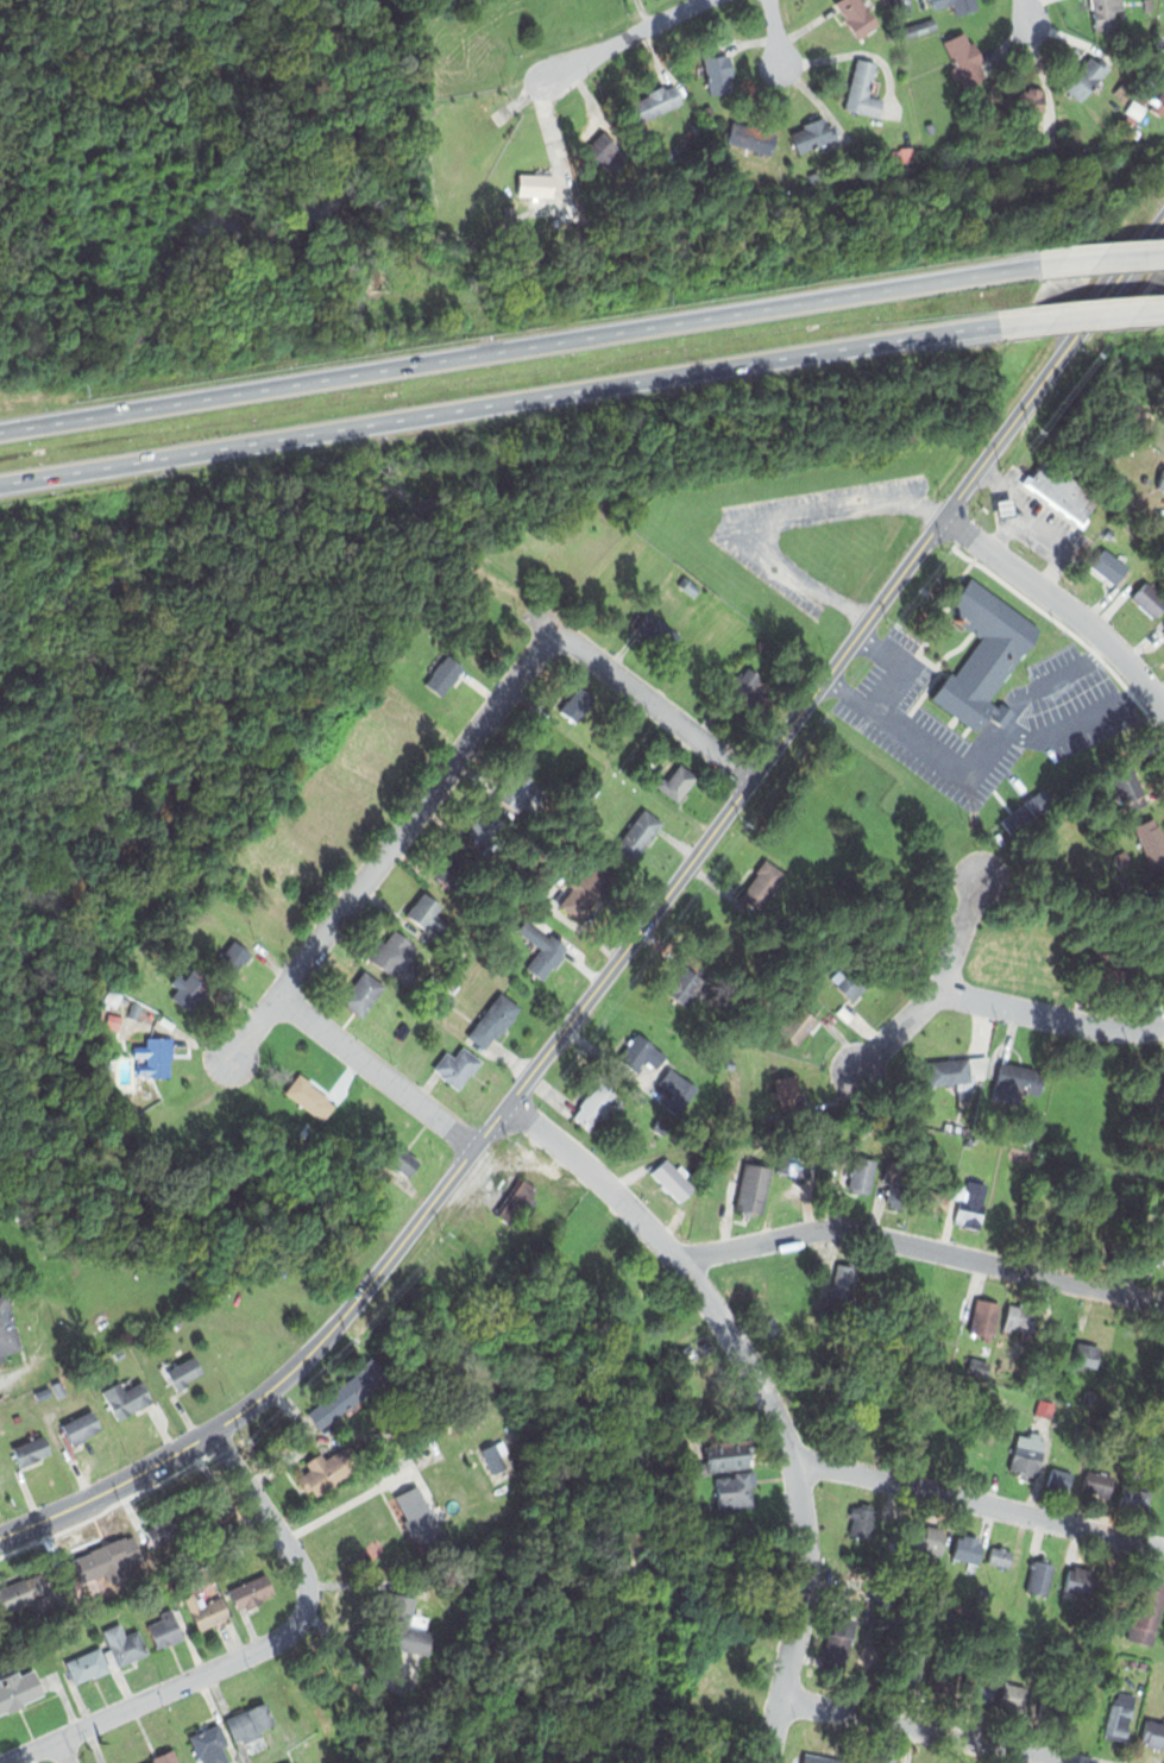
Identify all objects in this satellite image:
building: (906, 4)
building: (955, 4)
road: (1027, 11)
building: (1108, 13)
building: (856, 15)
building: (921, 26)
road: (774, 31)
road: (622, 38)
building: (964, 59)
building: (718, 70)
building: (1084, 74)
building: (863, 90)
building: (1121, 90)
building: (1019, 102)
building: (1159, 102)
building: (654, 103)
building: (1137, 109)
building: (1130, 120)
building: (931, 126)
building: (694, 130)
building: (812, 134)
building: (751, 138)
building: (602, 152)
building: (919, 152)
building: (895, 153)
building: (907, 153)
building: (534, 182)
building: (509, 215)
road: (1102, 257)
road: (1081, 314)
road: (521, 346)
road: (1053, 367)
road: (498, 403)
building: (1147, 479)
building: (1160, 479)
building: (1062, 491)
building: (1005, 505)
road: (939, 515)
road: (768, 523)
parking lot: (756, 553)
building: (1107, 565)
building: (690, 585)
building: (1150, 598)
road: (1062, 604)
road: (866, 616)
building: (657, 631)
building: (1163, 631)
building: (986, 654)
building: (442, 674)
road: (1052, 681)
road: (885, 690)
building: (749, 692)
building: (578, 704)
road: (653, 704)
road: (994, 735)
building: (677, 781)
building: (1130, 785)
building: (517, 792)
building: (1028, 813)
building: (637, 833)
building: (489, 835)
building: (1150, 839)
road: (392, 843)
building: (1121, 858)
building: (461, 867)
building: (763, 884)
building: (585, 889)
building: (1160, 895)
building: (427, 915)
building: (542, 945)
building: (395, 953)
building: (233, 957)
building: (856, 976)
building: (692, 982)
building: (453, 983)
building: (189, 988)
road: (942, 988)
building: (363, 993)
building: (112, 996)
building: (441, 1002)
building: (133, 1009)
building: (149, 1014)
road: (1051, 1014)
building: (109, 1019)
building: (495, 1021)
building: (797, 1022)
building: (641, 1053)
building: (152, 1058)
building: (729, 1063)
building: (457, 1068)
road: (377, 1070)
building: (958, 1072)
road: (521, 1083)
building: (674, 1083)
building: (1017, 1084)
building: (734, 1089)
building: (309, 1096)
building: (789, 1096)
building: (1154, 1098)
building: (731, 1100)
building: (598, 1106)
building: (403, 1160)
building: (861, 1173)
building: (671, 1177)
building: (904, 1186)
building: (749, 1189)
building: (515, 1200)
building: (969, 1202)
road: (921, 1247)
building: (1150, 1248)
building: (844, 1277)
building: (982, 1321)
building: (1018, 1324)
building: (7, 1327)
building: (147, 1331)
building: (117, 1353)
building: (1086, 1354)
building: (183, 1371)
building: (57, 1387)
road: (761, 1389)
building: (345, 1394)
building: (124, 1397)
building: (1045, 1406)
building: (17, 1417)
building: (77, 1425)
building: (285, 1446)
building: (31, 1449)
building: (1028, 1453)
building: (491, 1455)
building: (719, 1456)
building: (331, 1471)
building: (1058, 1476)
building: (1096, 1479)
building: (736, 1493)
building: (1133, 1497)
road: (977, 1501)
building: (214, 1513)
building: (421, 1517)
building: (862, 1519)
building: (899, 1526)
building: (169, 1536)
building: (930, 1540)
building: (967, 1549)
building: (999, 1555)
building: (107, 1559)
building: (1038, 1576)
building: (1077, 1582)
building: (251, 1591)
building: (21, 1593)
building: (206, 1607)
building: (1145, 1610)
building: (403, 1624)
building: (165, 1626)
building: (837, 1642)
building: (122, 1644)
road: (254, 1650)
building: (1131, 1661)
building: (86, 1663)
building: (1144, 1663)
building: (869, 1664)
building: (910, 1675)
building: (943, 1682)
building: (18, 1688)
building: (980, 1689)
building: (1013, 1696)
building: (1049, 1705)
building: (1120, 1715)
building: (250, 1721)
road: (926, 1731)
building: (1152, 1733)
building: (212, 1744)
road: (63, 1751)
building: (165, 1756)
building: (823, 1757)
building: (880, 1758)
building: (288, 1762)
building: (954, 1762)

